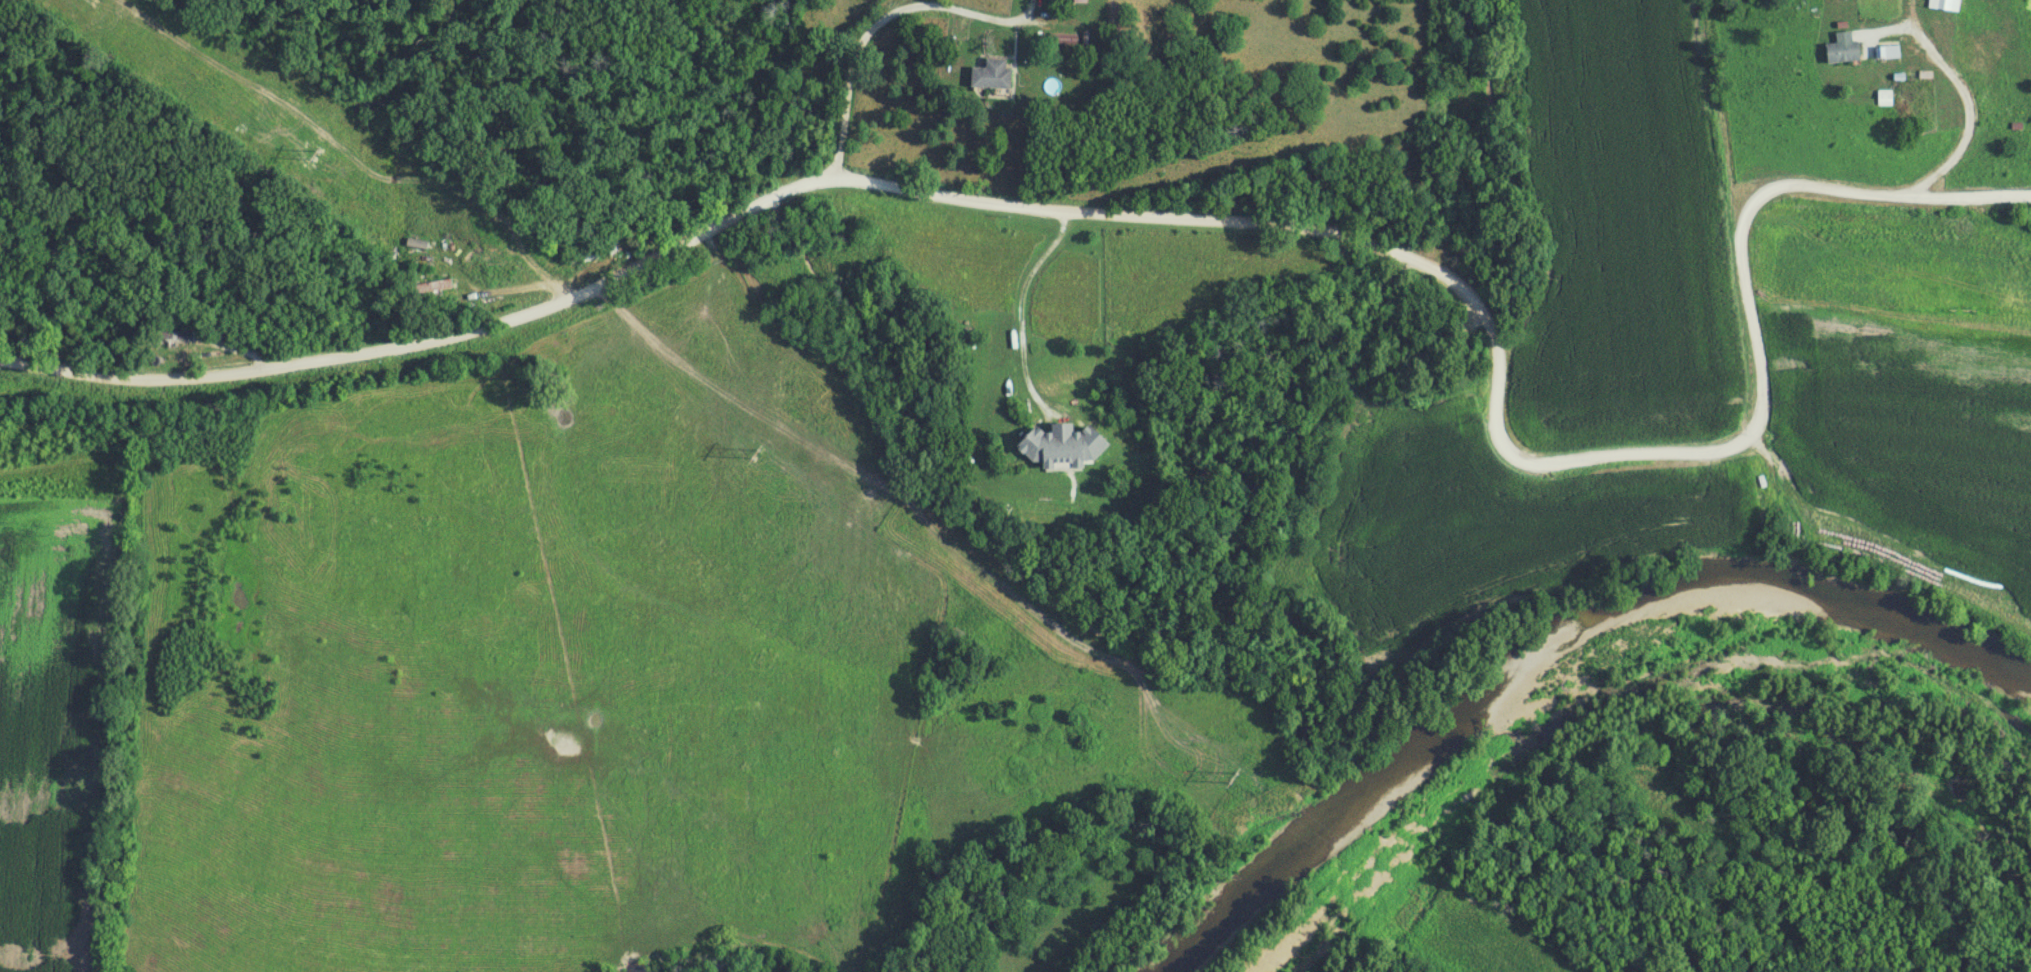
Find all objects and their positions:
building: (1074, 2)
building: (1945, 5)
road: (883, 20)
building: (1856, 48)
building: (1887, 51)
building: (990, 74)
road: (1970, 202)
road: (1239, 223)
power tower: (464, 252)
building: (427, 288)
road: (1021, 302)
building: (172, 336)
building: (1062, 446)
power tower: (1261, 789)

